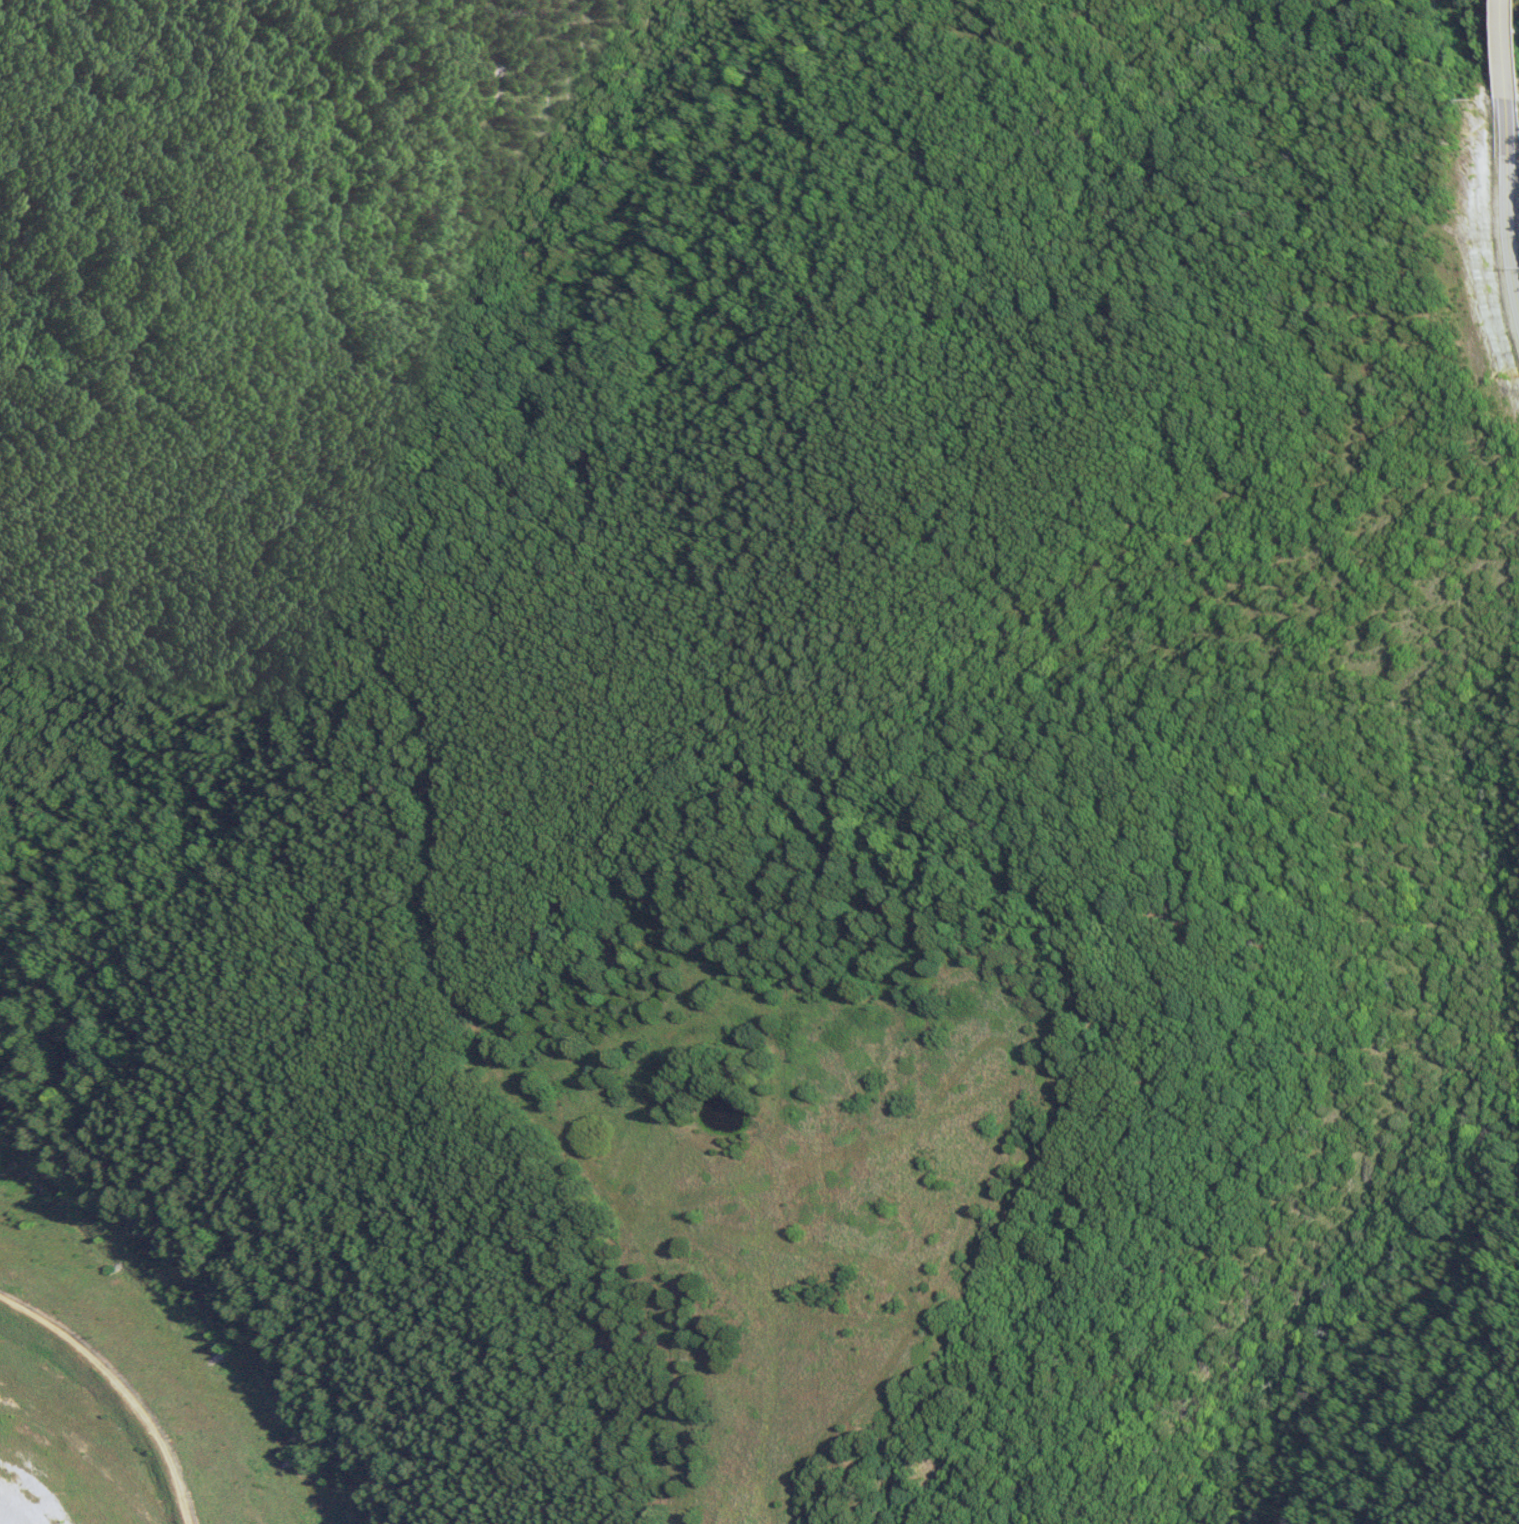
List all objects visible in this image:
road: (1512, 71)
road: (1486, 230)
airport: (96, 1377)

